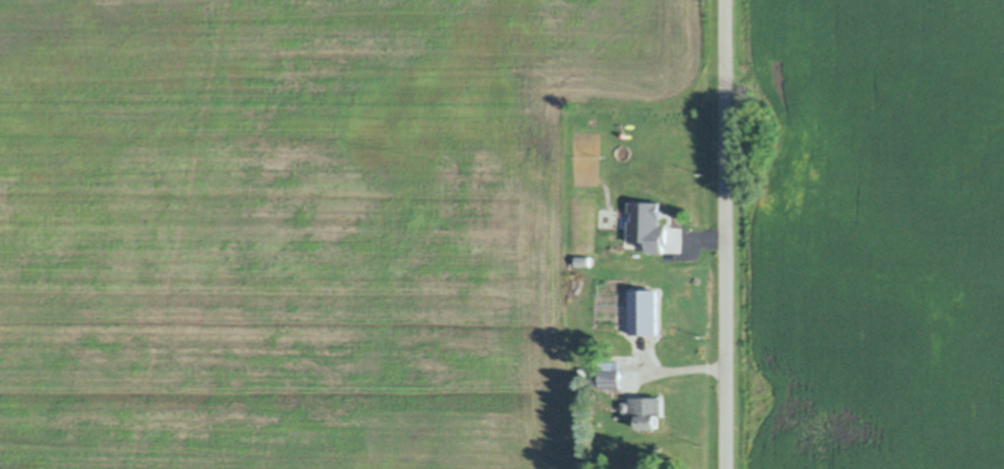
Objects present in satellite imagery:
building: (618, 222)
building: (647, 226)
road: (727, 234)
building: (640, 311)
building: (582, 372)
building: (606, 375)
building: (627, 407)
building: (647, 412)

